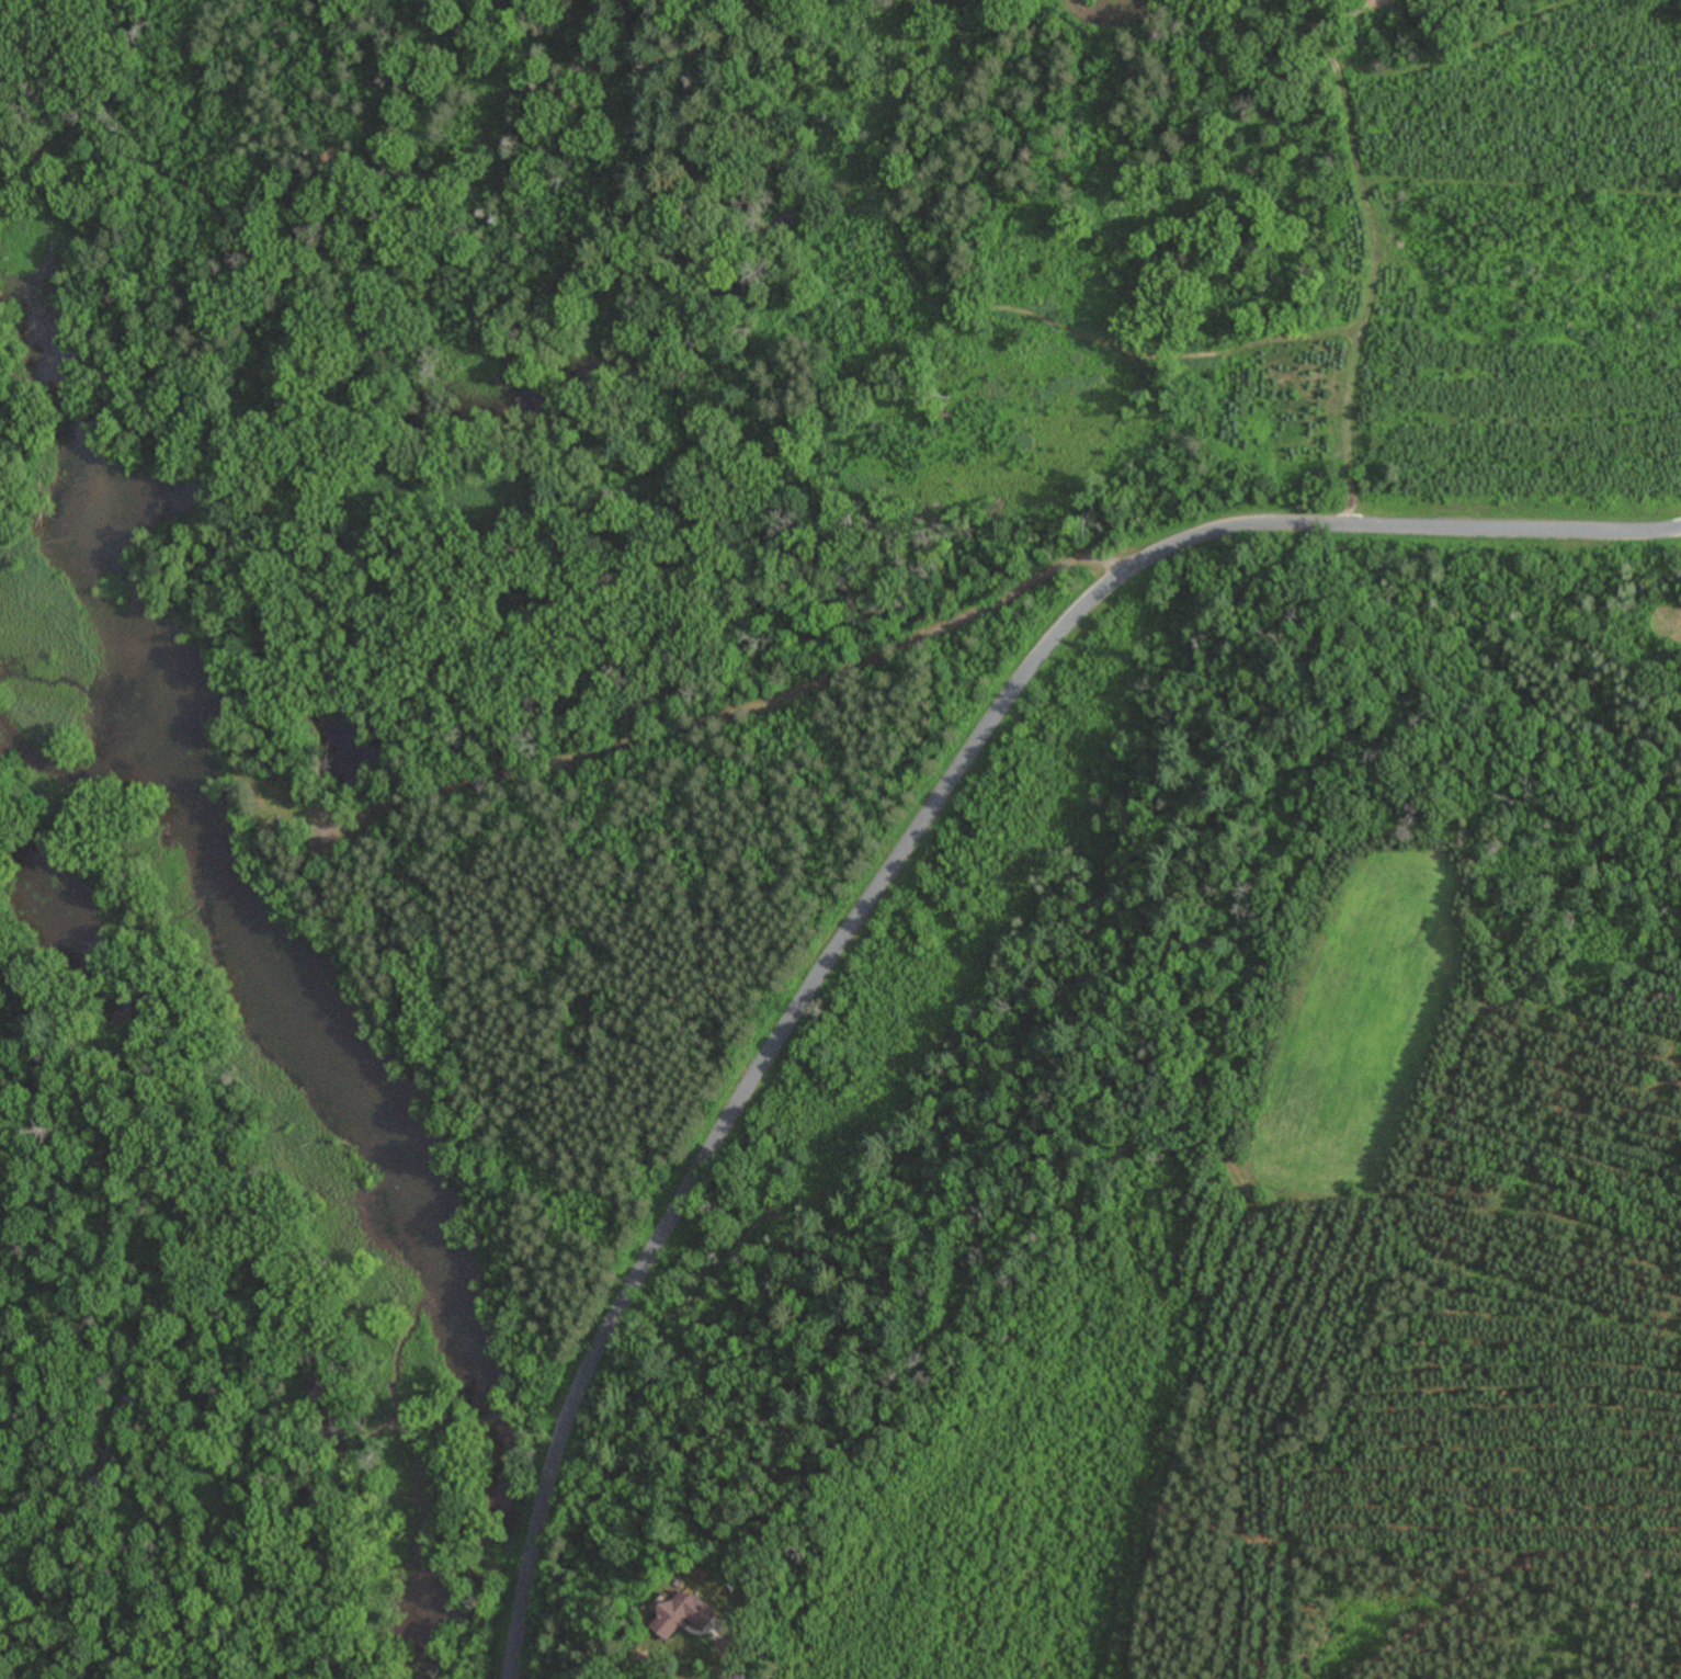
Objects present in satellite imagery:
road: (921, 866)
building: (677, 1616)
road: (735, 1624)

